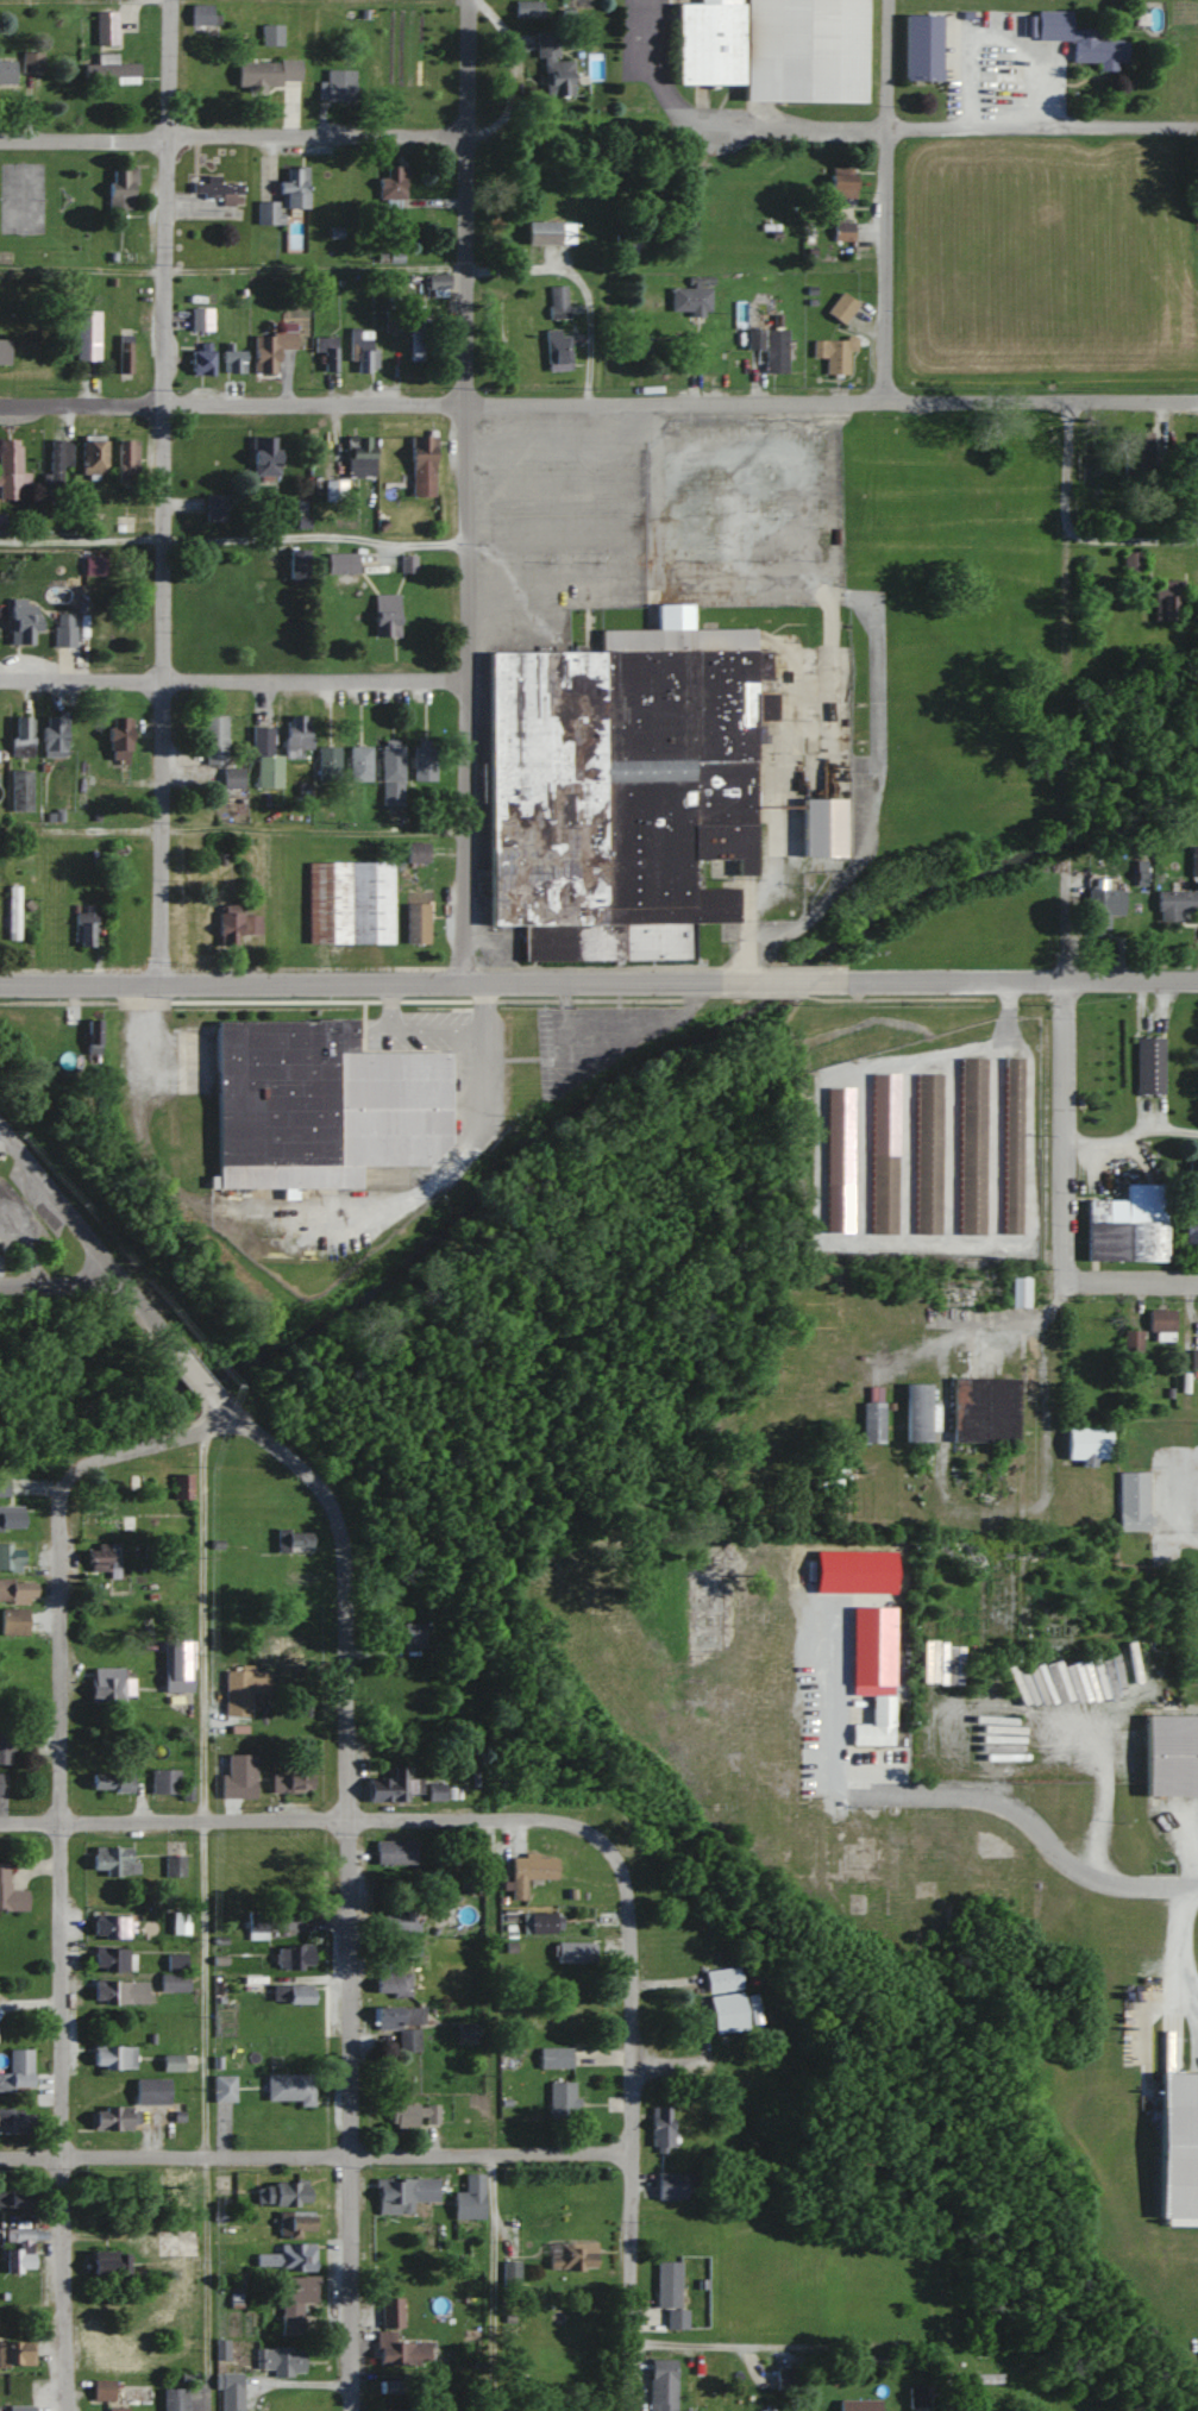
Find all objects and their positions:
building: (528, 8)
building: (201, 15)
building: (105, 29)
building: (270, 34)
building: (1080, 39)
building: (773, 48)
building: (921, 48)
building: (31, 62)
building: (205, 67)
building: (552, 67)
building: (109, 69)
building: (6, 71)
building: (242, 79)
building: (338, 86)
road: (682, 128)
road: (83, 138)
building: (391, 187)
building: (120, 188)
building: (841, 188)
building: (215, 190)
building: (283, 196)
road: (886, 200)
building: (842, 230)
building: (542, 231)
road: (359, 268)
building: (437, 284)
building: (690, 297)
building: (557, 301)
building: (841, 307)
building: (200, 319)
building: (416, 332)
building: (87, 334)
building: (770, 340)
building: (7, 347)
building: (269, 349)
building: (360, 349)
building: (557, 349)
building: (324, 352)
building: (834, 353)
building: (123, 354)
building: (201, 358)
building: (232, 360)
road: (598, 401)
building: (92, 456)
building: (263, 456)
building: (358, 457)
building: (1137, 457)
building: (125, 459)
building: (58, 462)
building: (421, 464)
building: (11, 469)
building: (1193, 477)
building: (334, 490)
road: (162, 491)
road: (470, 491)
building: (214, 507)
road: (1134, 538)
road: (236, 540)
building: (1131, 560)
building: (295, 563)
building: (340, 563)
building: (1166, 598)
building: (384, 614)
building: (21, 620)
building: (63, 628)
road: (234, 678)
building: (54, 734)
building: (296, 734)
building: (20, 735)
building: (118, 737)
building: (213, 739)
building: (264, 758)
building: (327, 762)
building: (358, 762)
building: (422, 762)
building: (391, 772)
building: (232, 777)
building: (623, 787)
building: (20, 790)
building: (821, 825)
road: (315, 827)
road: (1068, 840)
building: (415, 852)
building: (1193, 860)
building: (355, 902)
building: (1174, 903)
road: (751, 906)
building: (1102, 906)
building: (12, 912)
building: (416, 923)
building: (234, 925)
building: (82, 927)
road: (796, 982)
road: (1023, 982)
road: (371, 985)
road: (410, 1032)
building: (92, 1036)
building: (1149, 1063)
building: (319, 1105)
road: (4, 1136)
road: (1134, 1138)
building: (1011, 1144)
building: (972, 1145)
building: (927, 1153)
building: (1193, 1173)
building: (883, 1193)
road: (307, 1223)
building: (1192, 1224)
building: (1128, 1225)
road: (89, 1236)
road: (1134, 1277)
road: (59, 1287)
building: (1018, 1291)
road: (1197, 1292)
building: (1160, 1323)
building: (1131, 1341)
road: (200, 1375)
building: (984, 1409)
building: (920, 1411)
building: (872, 1421)
building: (1086, 1444)
building: (181, 1484)
building: (4, 1487)
road: (948, 1490)
building: (1133, 1501)
building: (11, 1517)
building: (108, 1518)
building: (291, 1540)
building: (11, 1556)
building: (102, 1556)
building: (15, 1589)
building: (12, 1621)
building: (412, 1634)
building: (280, 1653)
building: (879, 1660)
building: (177, 1665)
building: (112, 1687)
building: (14, 1689)
building: (237, 1693)
building: (876, 1725)
building: (5, 1750)
building: (1171, 1756)
building: (238, 1776)
building: (164, 1781)
building: (111, 1782)
building: (289, 1783)
building: (393, 1787)
building: (435, 1795)
road: (912, 1798)
road: (308, 1816)
building: (394, 1852)
road: (61, 1854)
building: (113, 1860)
building: (174, 1865)
building: (528, 1873)
road: (351, 1882)
road: (1148, 1890)
building: (10, 1894)
building: (393, 1920)
road: (202, 1921)
building: (178, 1922)
building: (544, 1922)
building: (257, 1926)
building: (114, 1927)
building: (408, 1945)
building: (573, 1952)
building: (293, 1957)
building: (111, 1958)
building: (175, 1961)
building: (721, 1980)
building: (174, 1982)
building: (391, 1983)
building: (121, 1991)
building: (294, 1994)
building: (727, 2013)
building: (401, 2024)
building: (466, 2029)
building: (112, 2057)
building: (554, 2057)
building: (171, 2061)
road: (680, 2068)
building: (14, 2082)
building: (222, 2087)
building: (288, 2087)
building: (151, 2091)
building: (562, 2099)
road: (488, 2114)
building: (414, 2115)
building: (109, 2118)
building: (15, 2120)
road: (629, 2126)
building: (660, 2128)
building: (1178, 2146)
road: (314, 2155)
building: (670, 2185)
building: (403, 2192)
building: (281, 2193)
building: (15, 2198)
building: (469, 2198)
building: (294, 2223)
building: (175, 2243)
building: (18, 2249)
building: (295, 2256)
building: (572, 2256)
building: (264, 2259)
building: (105, 2261)
building: (510, 2273)
building: (670, 2293)
building: (294, 2302)
building: (387, 2335)
road: (816, 2343)
building: (15, 2354)
building: (115, 2356)
building: (280, 2360)
building: (993, 2367)
building: (785, 2379)
building: (661, 2385)
building: (101, 2390)
building: (230, 2392)
building: (918, 2398)
building: (175, 2399)
building: (858, 2405)
building: (15, 2407)
building: (117, 2409)
building: (399, 2410)

